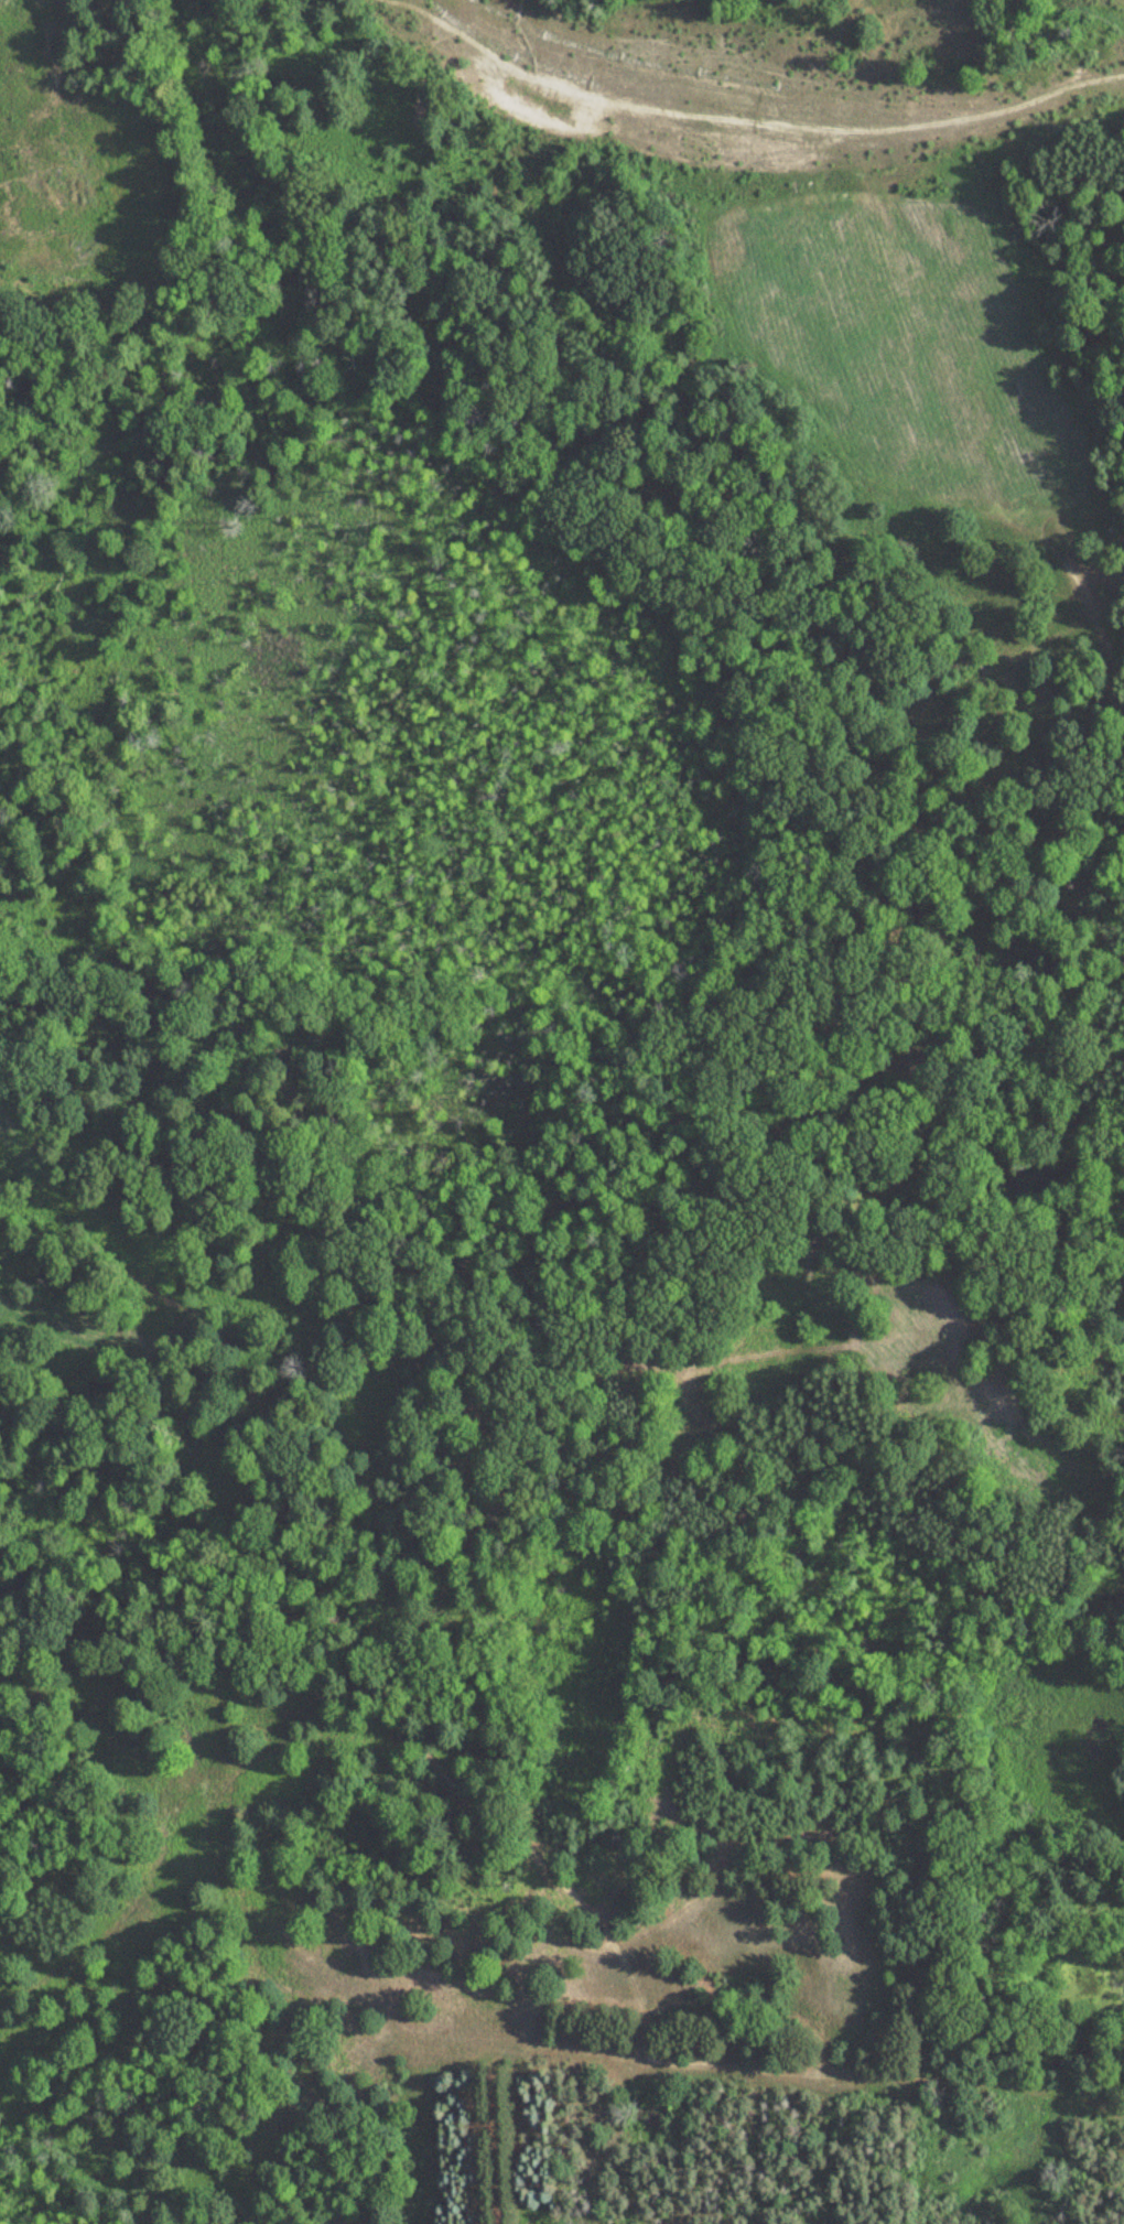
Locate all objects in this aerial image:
park: (980, 11)

